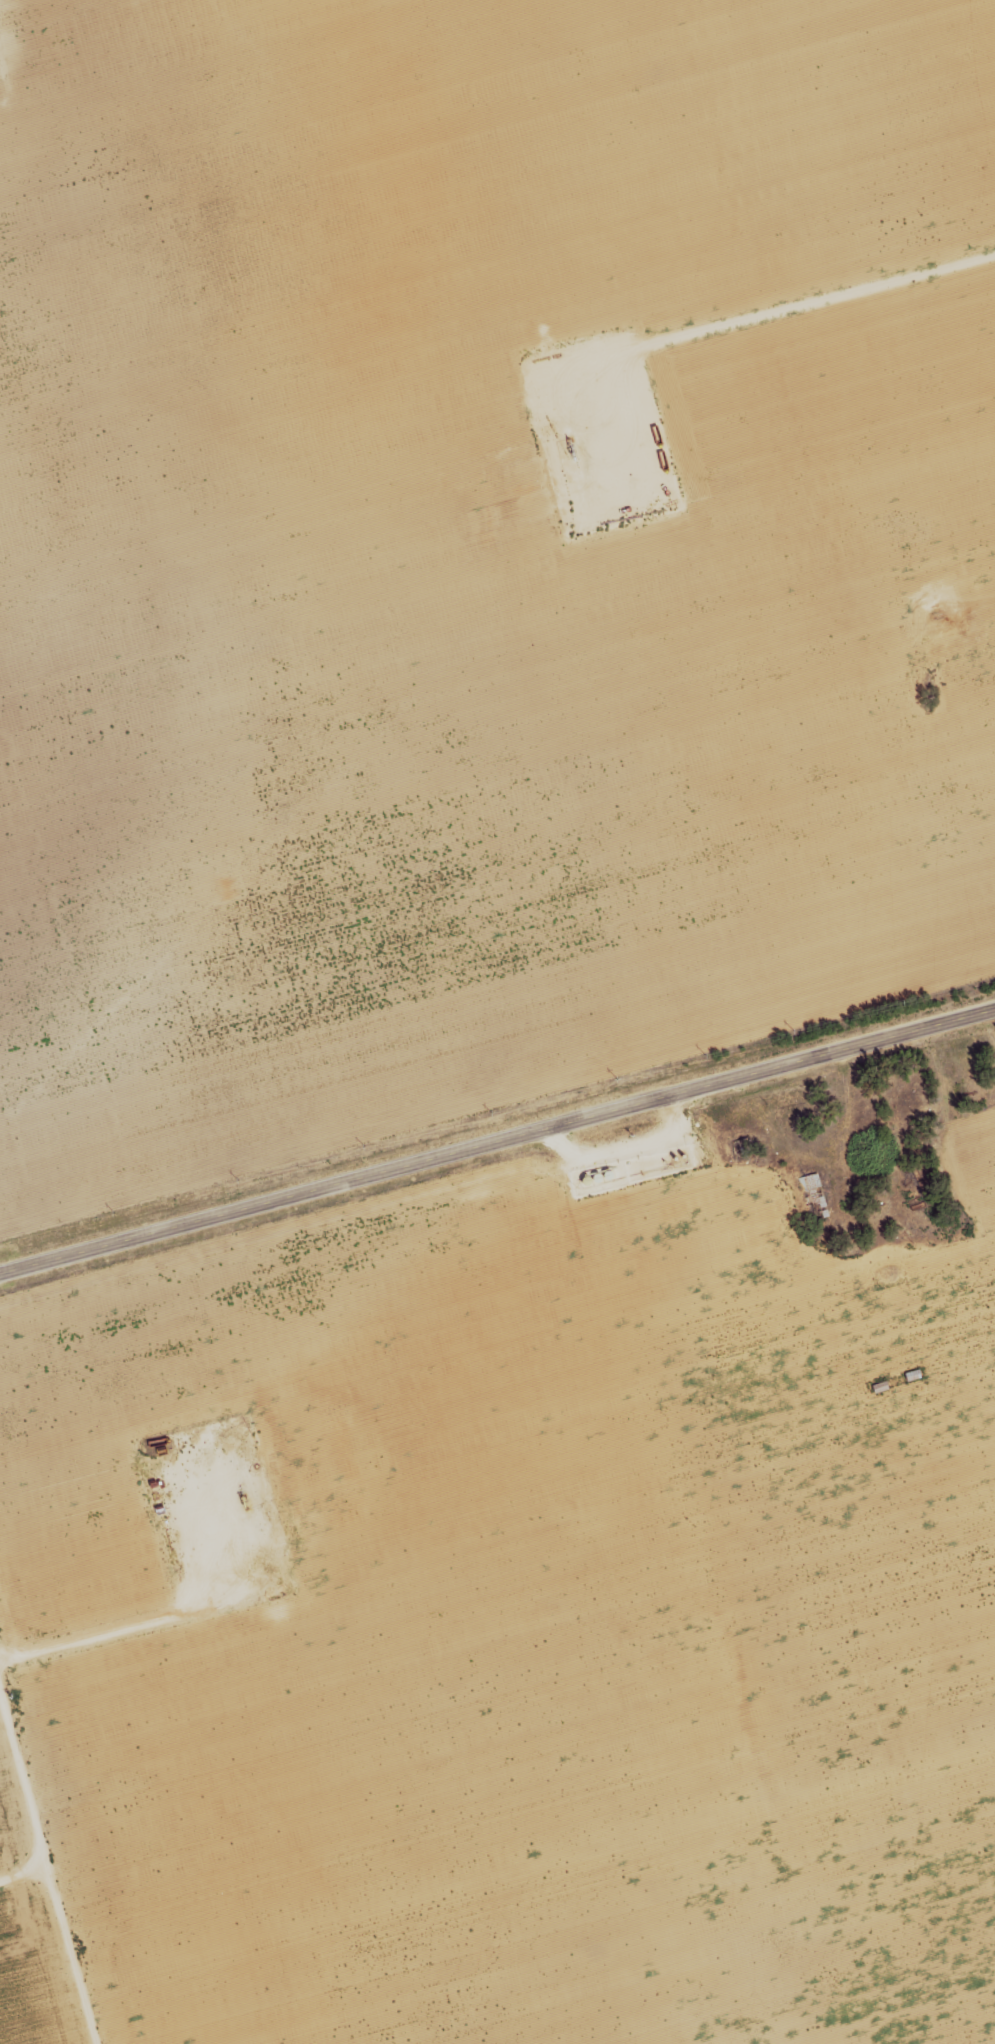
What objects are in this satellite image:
road: (497, 1147)
building: (813, 1197)
building: (880, 1387)
road: (37, 1892)

